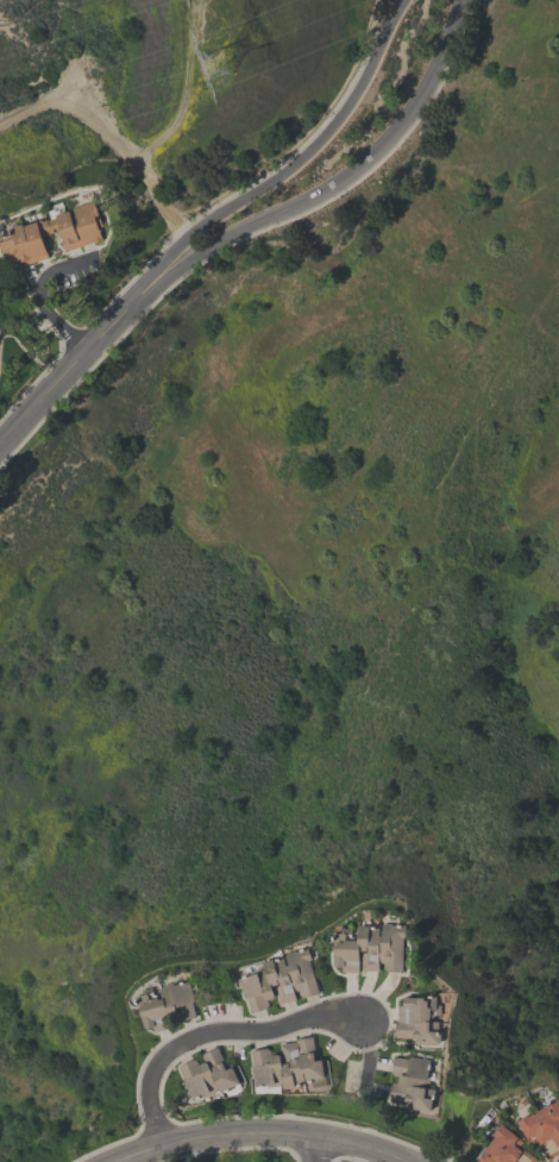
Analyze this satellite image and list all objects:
power tower: (225, 64)
road: (306, 170)
road: (327, 180)
building: (80, 232)
road: (30, 300)
road: (73, 369)
building: (370, 944)
building: (279, 978)
building: (165, 1003)
building: (419, 1017)
road: (213, 1031)
road: (368, 1049)
building: (287, 1064)
building: (206, 1074)
building: (410, 1081)
building: (544, 1126)
road: (263, 1135)
road: (314, 1148)
building: (505, 1148)

